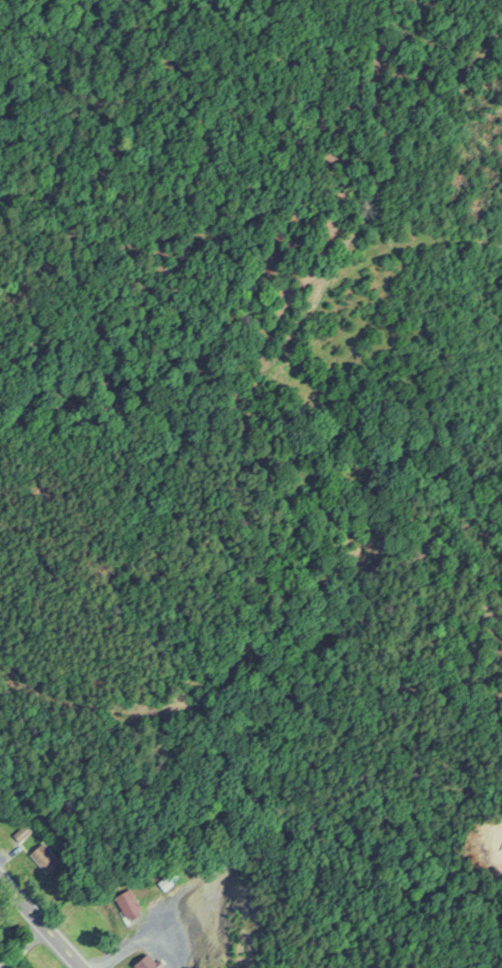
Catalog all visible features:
building: (46, 856)
building: (168, 878)
road: (39, 924)

